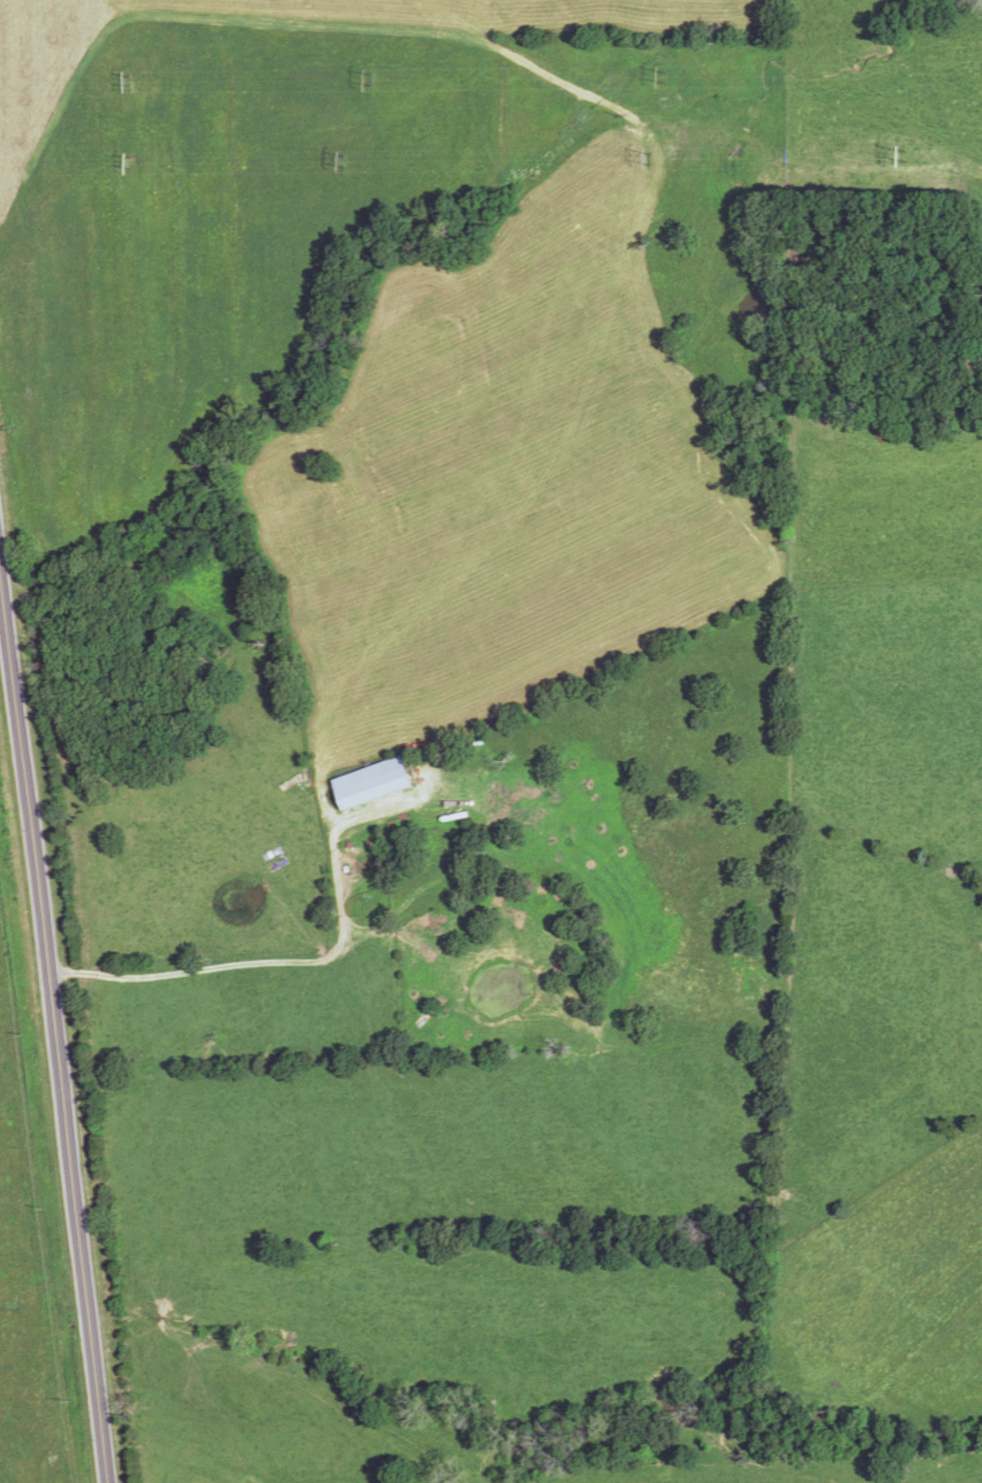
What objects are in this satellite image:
building: (375, 782)
building: (280, 864)
building: (427, 1017)
road: (55, 1031)

